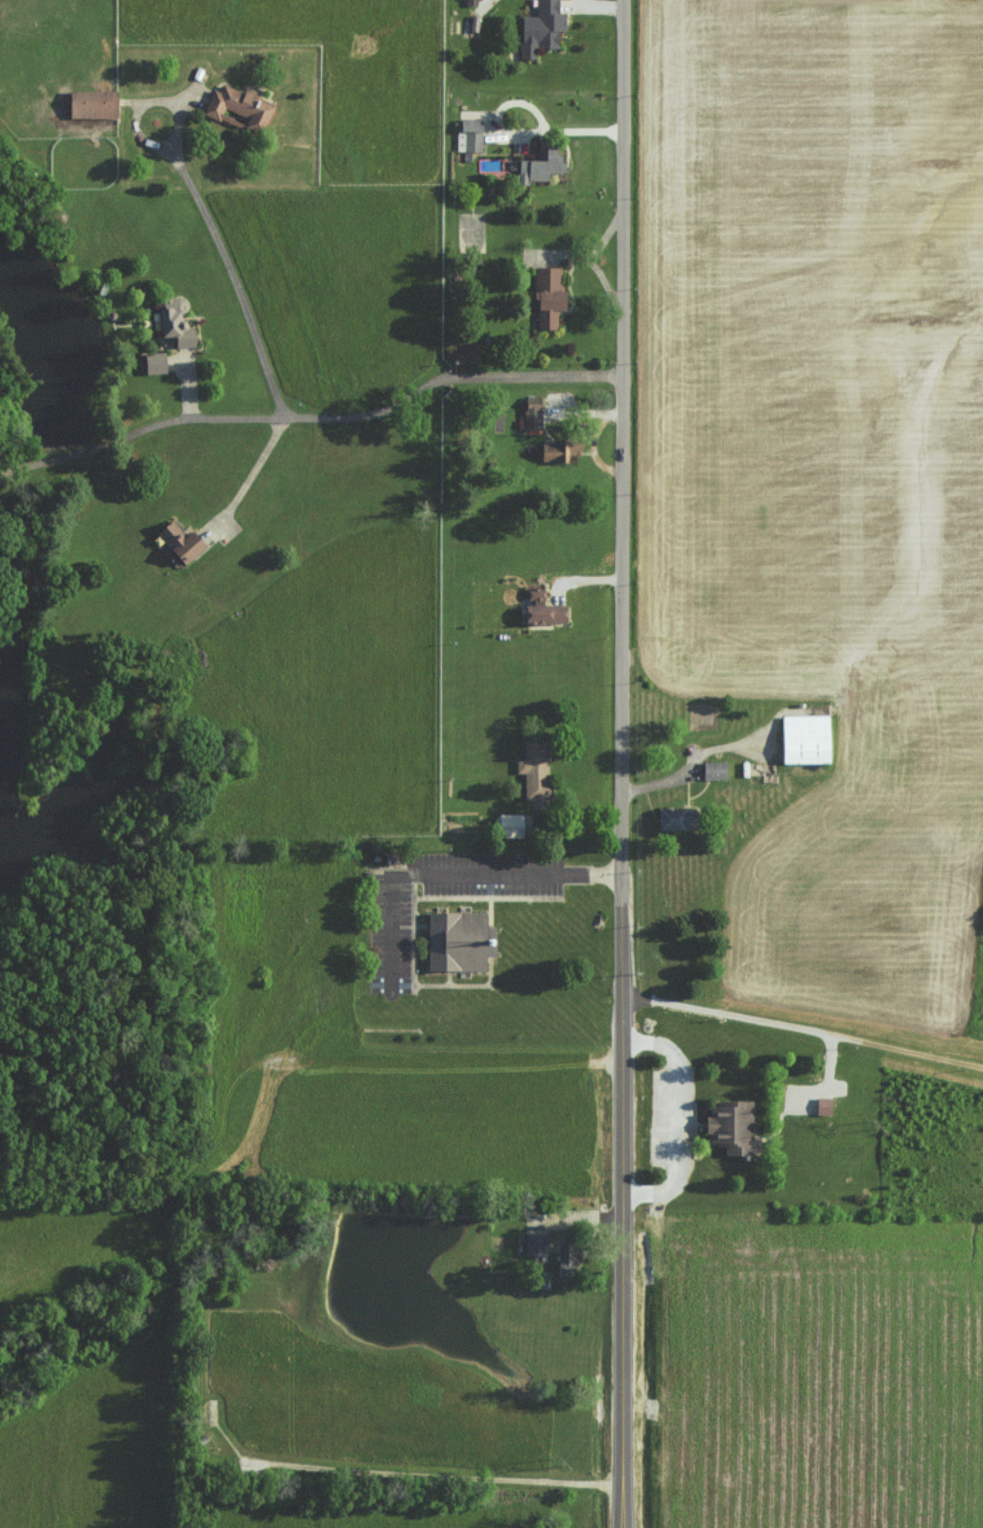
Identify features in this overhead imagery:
road: (599, 6)
building: (541, 28)
road: (150, 100)
building: (91, 104)
building: (238, 107)
road: (569, 129)
building: (469, 137)
building: (540, 165)
building: (547, 296)
building: (173, 322)
building: (465, 352)
building: (153, 362)
building: (532, 412)
road: (310, 415)
road: (140, 428)
building: (559, 450)
road: (251, 471)
building: (179, 541)
building: (541, 608)
building: (805, 738)
road: (619, 764)
building: (534, 769)
building: (713, 769)
road: (671, 782)
building: (673, 819)
building: (510, 825)
road: (449, 877)
building: (457, 940)
road: (801, 1028)
building: (823, 1106)
road: (678, 1116)
building: (731, 1127)
building: (535, 1244)
building: (565, 1262)

